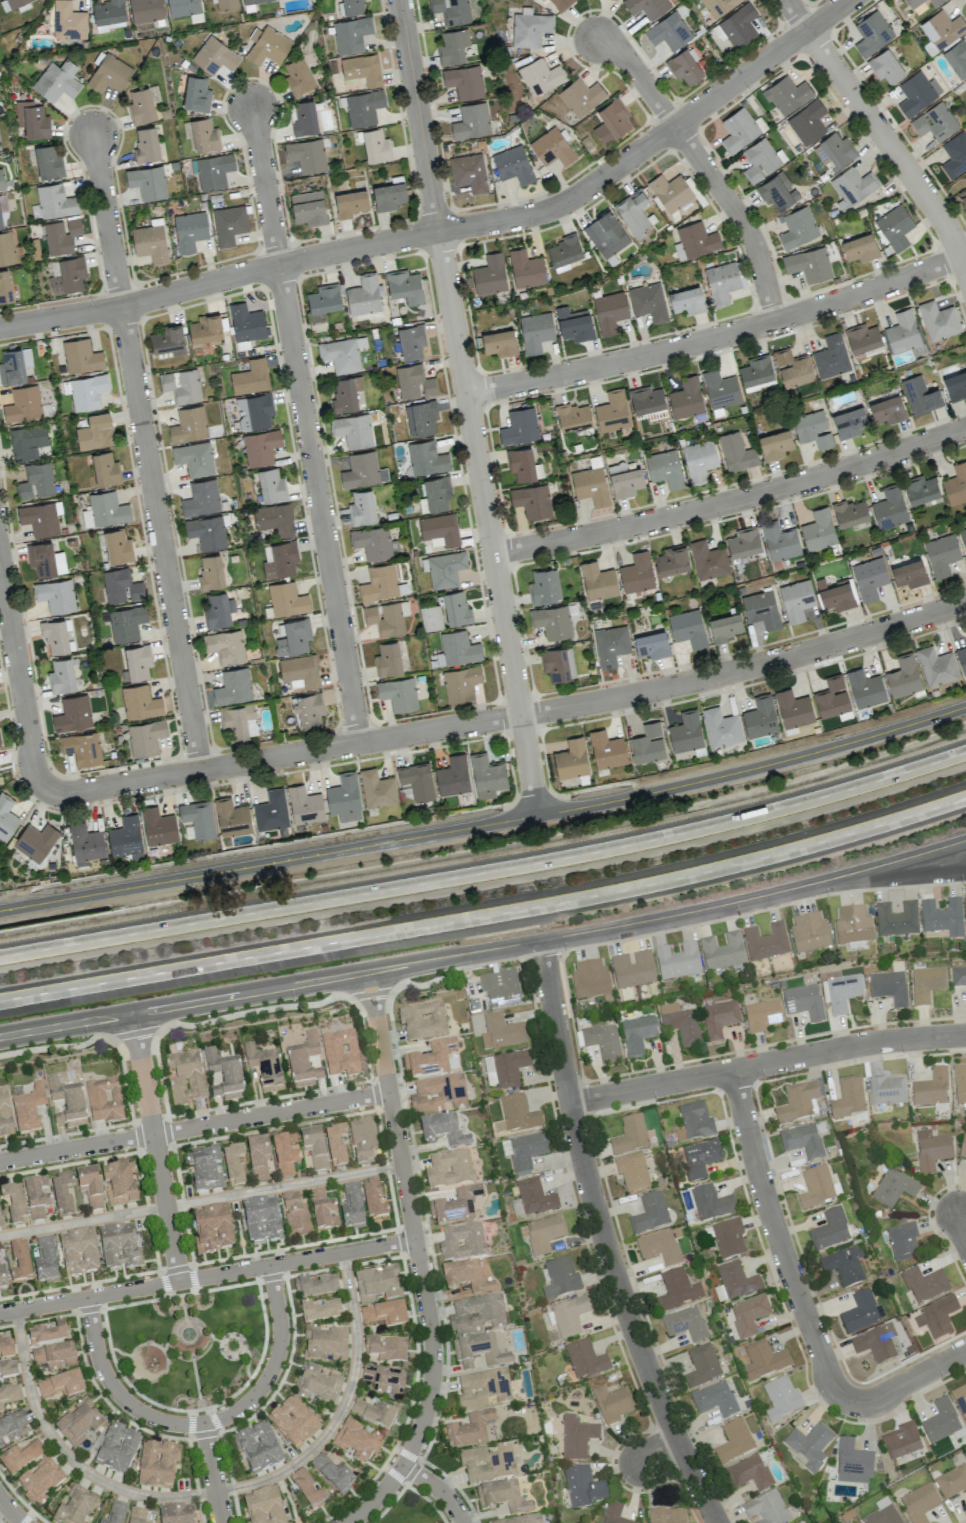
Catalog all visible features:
building: (255, 1)
building: (935, 2)
building: (15, 3)
building: (913, 3)
building: (226, 4)
building: (561, 4)
building: (718, 6)
building: (183, 7)
building: (353, 7)
building: (646, 7)
building: (145, 10)
building: (451, 11)
building: (108, 14)
building: (68, 21)
building: (739, 26)
building: (529, 29)
building: (942, 29)
building: (668, 31)
building: (872, 33)
building: (351, 34)
building: (267, 46)
building: (453, 46)
building: (215, 56)
building: (957, 58)
building: (684, 67)
building: (886, 67)
building: (361, 69)
building: (108, 73)
building: (298, 76)
building: (540, 76)
building: (57, 81)
building: (464, 81)
building: (917, 93)
building: (196, 94)
building: (787, 94)
building: (581, 96)
building: (141, 106)
building: (363, 108)
building: (304, 118)
building: (31, 119)
building: (471, 121)
building: (611, 121)
building: (807, 122)
building: (935, 122)
building: (738, 130)
road: (881, 132)
building: (202, 134)
building: (146, 144)
building: (374, 145)
building: (552, 147)
building: (834, 150)
building: (306, 155)
building: (955, 155)
building: (761, 160)
building: (47, 162)
building: (513, 165)
road: (705, 168)
building: (213, 171)
building: (469, 172)
building: (1, 180)
building: (147, 182)
building: (853, 185)
building: (777, 191)
building: (670, 192)
building: (388, 196)
building: (53, 202)
building: (963, 202)
building: (351, 203)
building: (308, 208)
building: (634, 213)
building: (0, 223)
building: (229, 224)
building: (894, 227)
building: (797, 228)
road: (453, 229)
building: (189, 231)
building: (606, 234)
building: (61, 235)
building: (697, 240)
building: (150, 243)
building: (860, 248)
building: (6, 249)
building: (564, 250)
building: (808, 264)
building: (526, 269)
building: (490, 274)
building: (67, 275)
building: (722, 282)
building: (4, 286)
building: (404, 286)
building: (364, 295)
building: (324, 298)
building: (687, 300)
building: (648, 302)
building: (609, 312)
building: (938, 320)
building: (246, 322)
building: (574, 324)
building: (205, 328)
building: (535, 331)
building: (903, 333)
road: (719, 337)
building: (168, 340)
building: (863, 340)
building: (411, 341)
building: (499, 343)
building: (342, 354)
building: (81, 356)
building: (831, 356)
building: (14, 365)
building: (793, 368)
building: (757, 373)
building: (250, 378)
building: (414, 382)
building: (181, 385)
building: (956, 385)
building: (720, 389)
building: (87, 391)
building: (346, 394)
building: (920, 395)
building: (686, 398)
building: (646, 399)
building: (23, 404)
road: (468, 408)
building: (887, 409)
building: (254, 411)
building: (612, 412)
building: (573, 417)
building: (423, 418)
building: (849, 422)
building: (189, 424)
road: (306, 426)
building: (519, 426)
building: (354, 429)
building: (813, 429)
building: (95, 431)
building: (27, 441)
building: (775, 444)
building: (261, 447)
building: (736, 452)
road: (146, 453)
building: (194, 458)
building: (427, 458)
building: (699, 460)
building: (523, 464)
building: (105, 469)
building: (665, 469)
building: (362, 470)
building: (624, 480)
building: (36, 481)
building: (956, 484)
building: (590, 485)
building: (271, 486)
building: (921, 490)
building: (435, 494)
building: (201, 498)
building: (532, 500)
road: (732, 501)
building: (361, 507)
building: (889, 508)
building: (108, 509)
building: (850, 512)
building: (86, 517)
building: (40, 518)
building: (274, 519)
building: (440, 528)
building: (818, 530)
building: (206, 532)
building: (963, 537)
building: (780, 541)
building: (373, 542)
building: (744, 542)
building: (118, 546)
building: (942, 554)
building: (45, 559)
building: (281, 560)
building: (672, 560)
building: (707, 560)
building: (445, 569)
building: (210, 571)
building: (637, 573)
building: (909, 573)
building: (869, 578)
building: (598, 581)
building: (379, 583)
building: (121, 586)
building: (544, 586)
building: (55, 595)
building: (836, 595)
building: (286, 599)
building: (796, 600)
building: (455, 608)
building: (761, 609)
building: (218, 610)
building: (386, 617)
building: (431, 618)
building: (552, 621)
building: (126, 623)
building: (725, 627)
building: (687, 628)
building: (56, 636)
building: (293, 637)
building: (610, 645)
building: (652, 645)
building: (225, 646)
building: (457, 649)
building: (388, 659)
building: (962, 659)
building: (137, 662)
building: (558, 663)
building: (936, 666)
building: (298, 672)
road: (19, 674)
building: (61, 675)
building: (903, 676)
building: (460, 683)
building: (233, 686)
building: (865, 688)
building: (398, 693)
building: (832, 697)
building: (140, 702)
building: (793, 708)
building: (307, 709)
building: (73, 713)
road: (509, 716)
building: (760, 717)
building: (236, 721)
building: (721, 727)
building: (685, 732)
building: (145, 737)
building: (647, 744)
building: (82, 748)
building: (606, 749)
building: (571, 759)
building: (453, 776)
building: (486, 776)
building: (417, 780)
building: (377, 789)
building: (344, 797)
building: (304, 805)
building: (271, 811)
building: (6, 817)
building: (231, 817)
building: (198, 818)
road: (486, 825)
building: (158, 826)
building: (126, 838)
road: (964, 840)
building: (35, 842)
building: (85, 844)
road: (487, 873)
building: (965, 910)
road: (486, 914)
road: (668, 915)
building: (942, 918)
building: (897, 920)
building: (852, 925)
building: (809, 933)
building: (765, 942)
building: (722, 952)
road: (542, 953)
road: (489, 961)
building: (677, 961)
building: (632, 969)
building: (958, 977)
building: (591, 981)
building: (926, 984)
building: (500, 988)
building: (889, 988)
building: (842, 992)
building: (803, 1002)
road: (183, 1003)
road: (237, 1014)
building: (762, 1016)
park: (232, 1018)
building: (719, 1019)
building: (423, 1022)
building: (681, 1024)
building: (501, 1032)
building: (637, 1035)
building: (602, 1043)
building: (340, 1053)
building: (432, 1060)
building: (303, 1061)
road: (767, 1063)
building: (265, 1067)
building: (505, 1069)
building: (224, 1074)
building: (185, 1077)
building: (960, 1083)
building: (931, 1089)
building: (886, 1090)
building: (437, 1095)
building: (848, 1098)
building: (103, 1100)
building: (67, 1102)
building: (797, 1102)
building: (28, 1108)
building: (518, 1113)
building: (4, 1114)
building: (696, 1121)
road: (194, 1127)
building: (443, 1130)
building: (629, 1135)
building: (363, 1140)
building: (802, 1141)
building: (335, 1145)
building: (963, 1145)
road: (155, 1146)
building: (313, 1147)
building: (526, 1150)
building: (931, 1150)
building: (285, 1154)
building: (258, 1157)
building: (700, 1158)
building: (233, 1165)
building: (205, 1168)
building: (449, 1169)
building: (632, 1172)
building: (119, 1183)
building: (89, 1187)
building: (815, 1187)
building: (894, 1187)
building: (62, 1194)
building: (36, 1197)
building: (532, 1198)
building: (373, 1199)
road: (200, 1200)
building: (711, 1203)
building: (14, 1204)
building: (456, 1206)
building: (352, 1207)
building: (323, 1211)
building: (650, 1213)
building: (295, 1215)
building: (261, 1220)
road: (411, 1220)
building: (0, 1224)
building: (212, 1229)
building: (830, 1230)
road: (963, 1230)
building: (542, 1234)
building: (728, 1238)
road: (603, 1239)
road: (779, 1241)
building: (462, 1242)
building: (903, 1242)
building: (660, 1246)
building: (119, 1248)
building: (78, 1252)
building: (45, 1261)
building: (20, 1262)
building: (844, 1266)
road: (207, 1276)
building: (560, 1277)
building: (2, 1278)
building: (465, 1279)
building: (736, 1281)
building: (924, 1284)
building: (378, 1285)
building: (316, 1286)
building: (677, 1290)
road: (182, 1309)
building: (320, 1311)
building: (859, 1312)
building: (384, 1314)
building: (475, 1314)
building: (748, 1314)
building: (569, 1316)
building: (939, 1316)
building: (684, 1323)
road: (192, 1324)
fountain: (187, 1331)
building: (48, 1334)
road: (210, 1335)
road: (231, 1335)
road: (167, 1340)
building: (876, 1343)
park: (188, 1344)
building: (324, 1344)
building: (6, 1348)
building: (386, 1349)
road: (119, 1352)
building: (479, 1352)
building: (55, 1357)
building: (585, 1359)
road: (258, 1360)
building: (763, 1360)
road: (247, 1361)
building: (701, 1366)
building: (8, 1369)
road: (194, 1377)
road: (152, 1380)
building: (384, 1380)
road: (907, 1381)
building: (61, 1385)
building: (316, 1385)
building: (483, 1389)
building: (9, 1395)
building: (781, 1398)
building: (715, 1399)
building: (960, 1401)
building: (613, 1403)
road: (341, 1407)
building: (374, 1414)
road: (213, 1418)
road: (189, 1421)
building: (940, 1421)
building: (293, 1422)
building: (79, 1423)
road: (202, 1423)
building: (11, 1428)
building: (469, 1431)
building: (577, 1437)
building: (901, 1440)
building: (733, 1441)
building: (356, 1443)
building: (809, 1445)
building: (257, 1448)
building: (117, 1449)
road: (660, 1454)
building: (20, 1457)
road: (66, 1457)
building: (852, 1463)
building: (157, 1464)
building: (487, 1464)
road: (211, 1473)
building: (748, 1473)
building: (333, 1474)
building: (40, 1481)
building: (952, 1482)
road: (407, 1486)
building: (582, 1487)
building: (307, 1488)
road: (436, 1488)
road: (377, 1497)
building: (502, 1497)
building: (919, 1503)
building: (263, 1506)
building: (75, 1507)
building: (767, 1508)
road: (10, 1510)
park: (409, 1510)
building: (115, 1513)
building: (176, 1514)
building: (614, 1514)
building: (136, 1515)
building: (666, 1515)
building: (883, 1516)
building: (521, 1520)

